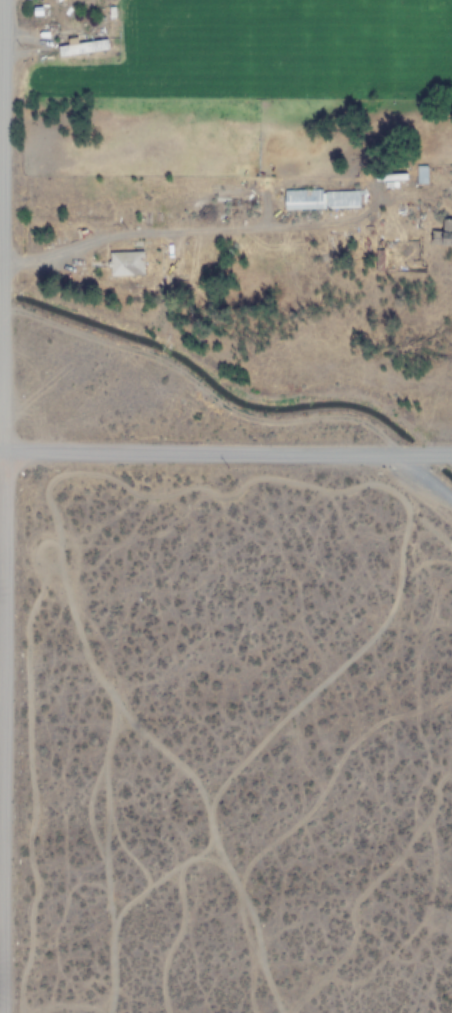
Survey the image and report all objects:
road: (34, 30)
building: (82, 47)
building: (320, 199)
crop: (229, 228)
building: (441, 238)
building: (126, 264)
road: (40, 266)
road: (0, 315)
road: (1, 449)
road: (227, 452)
road: (353, 466)
road: (423, 480)
road: (2, 506)
road: (427, 524)
road: (62, 583)
road: (331, 669)
road: (27, 745)
road: (333, 766)
road: (112, 827)
road: (98, 850)
road: (157, 875)
road: (170, 938)

